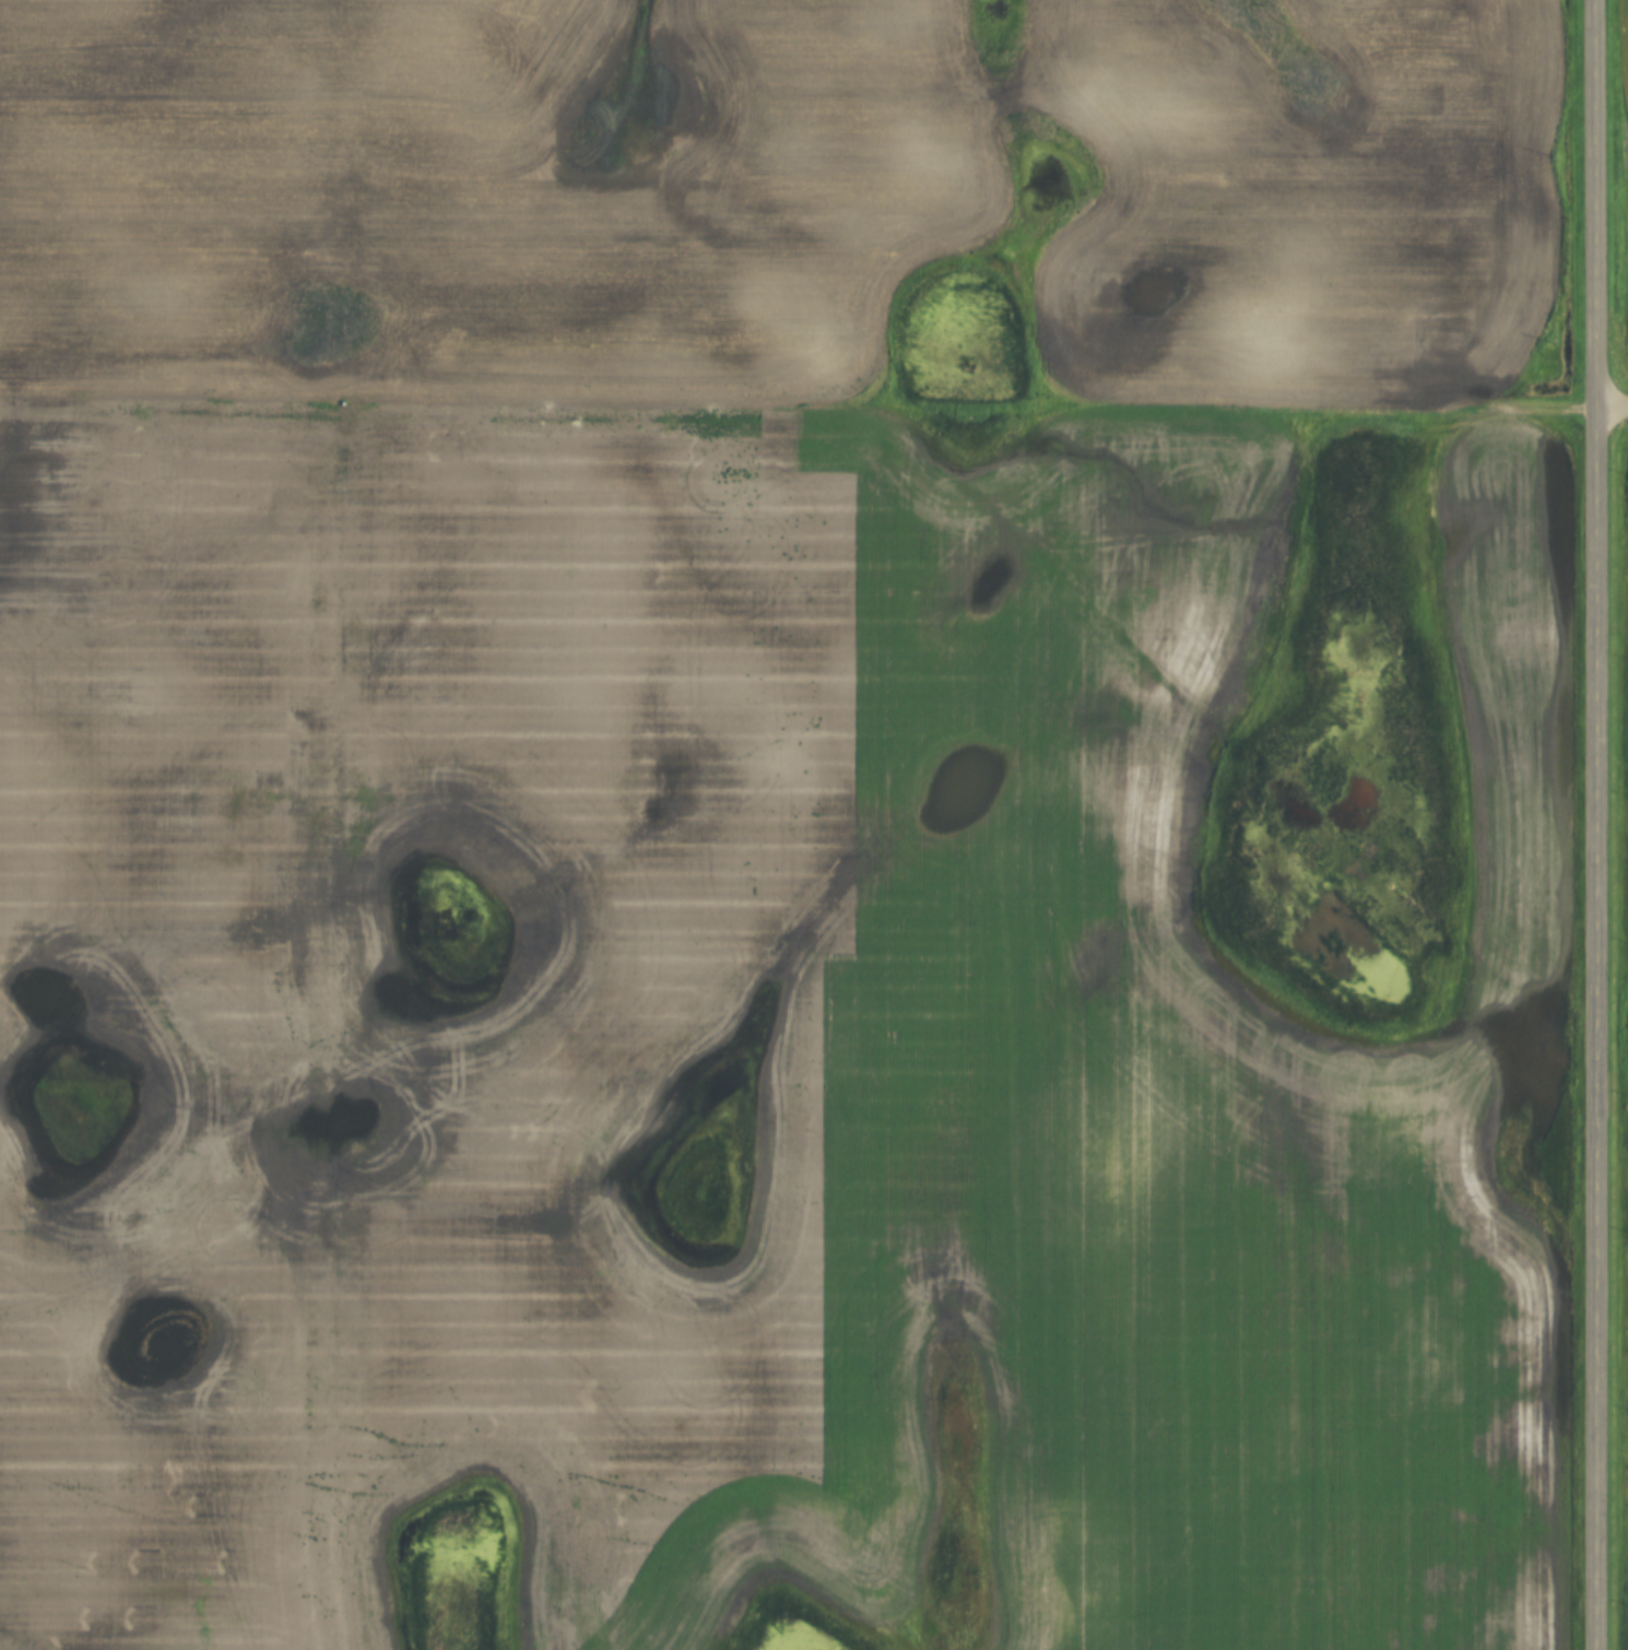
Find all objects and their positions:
road: (1613, 402)
road: (1596, 824)

